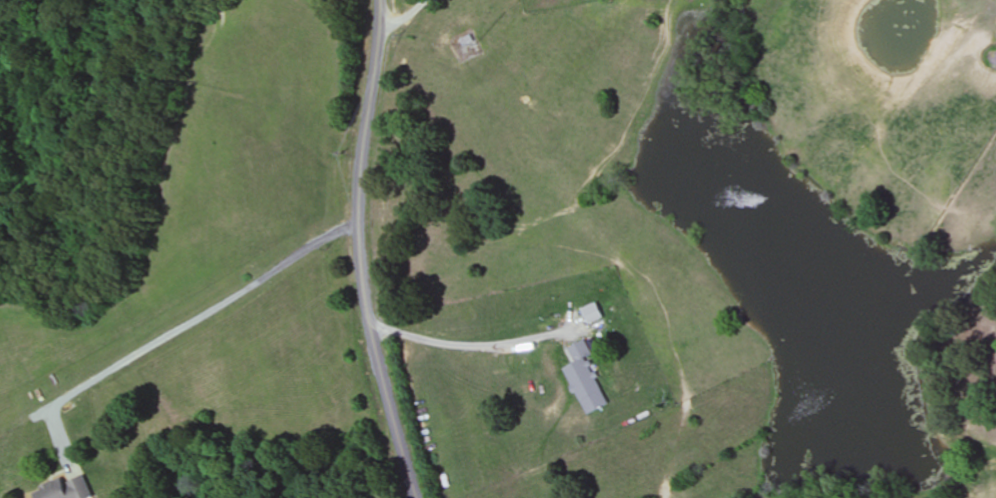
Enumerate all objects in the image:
building: (468, 41)
road: (361, 251)
building: (594, 313)
building: (585, 379)
building: (66, 489)

